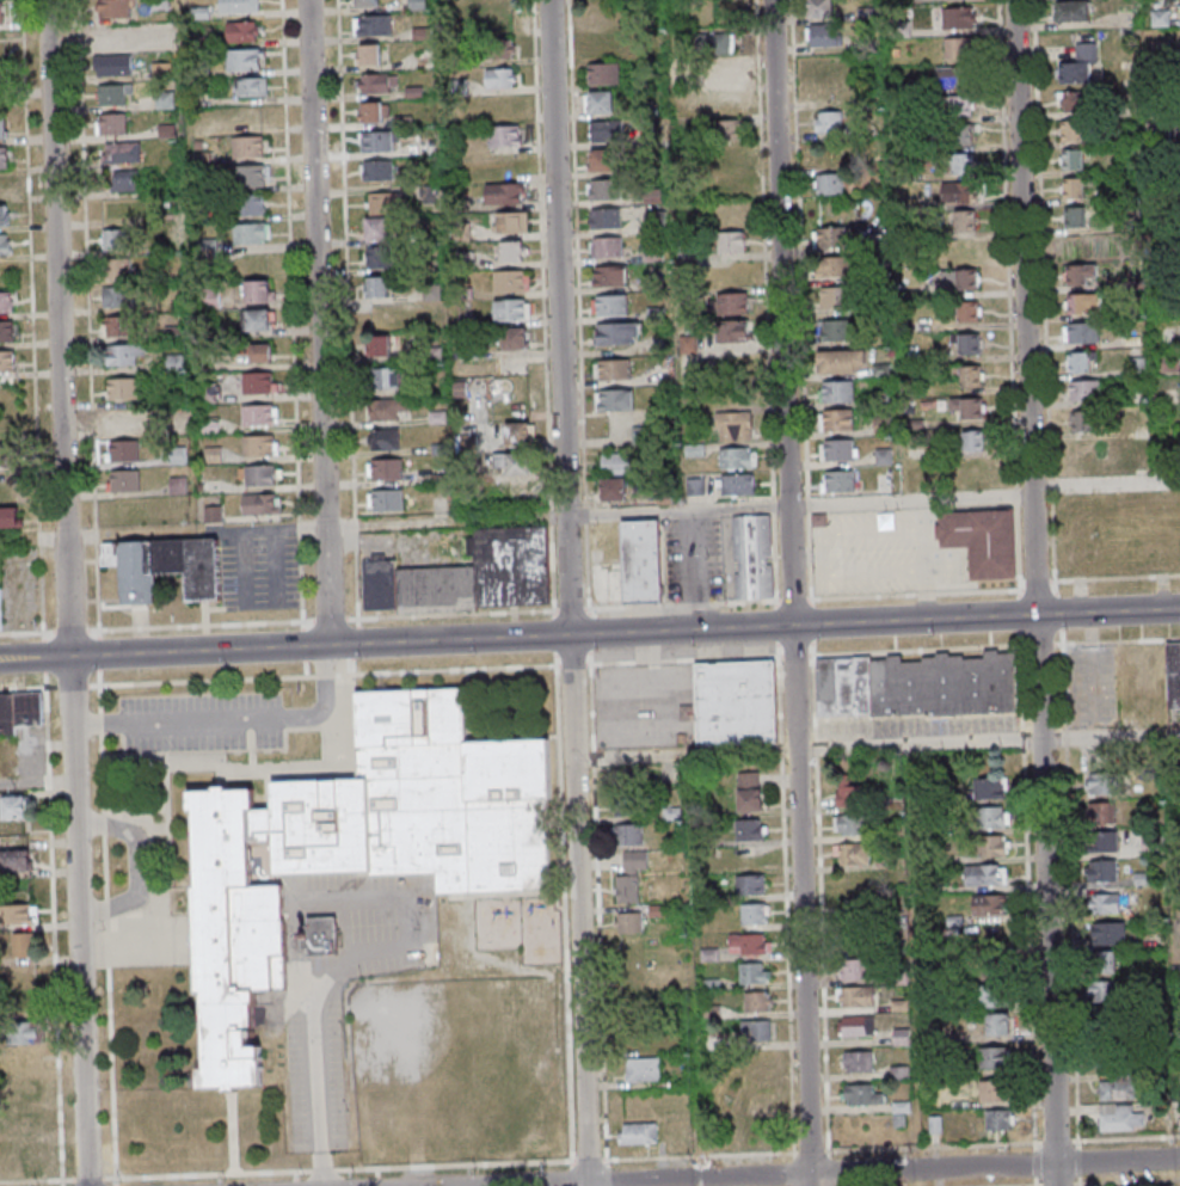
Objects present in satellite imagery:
building: (368, 2)
building: (239, 6)
building: (113, 8)
building: (821, 8)
building: (1073, 11)
building: (1, 12)
building: (964, 19)
building: (1161, 19)
building: (373, 25)
building: (244, 31)
building: (160, 35)
building: (823, 35)
building: (721, 42)
building: (607, 47)
building: (965, 49)
building: (499, 50)
building: (370, 54)
building: (245, 59)
building: (113, 64)
building: (1080, 64)
building: (725, 70)
building: (2, 72)
building: (609, 75)
building: (502, 76)
building: (967, 78)
building: (379, 82)
building: (251, 86)
building: (115, 93)
building: (165, 99)
building: (725, 99)
building: (601, 102)
building: (1076, 102)
building: (960, 105)
building: (375, 111)
building: (251, 117)
building: (826, 121)
building: (112, 123)
building: (2, 128)
building: (732, 129)
building: (611, 131)
building: (959, 133)
building: (1076, 133)
building: (505, 135)
building: (379, 140)
building: (248, 146)
building: (121, 152)
building: (4, 156)
building: (602, 159)
building: (731, 159)
building: (1076, 161)
building: (959, 164)
building: (377, 170)
building: (252, 176)
building: (125, 179)
building: (829, 183)
building: (4, 185)
building: (1078, 190)
building: (609, 191)
building: (504, 192)
building: (964, 193)
building: (382, 202)
building: (250, 204)
building: (4, 215)
building: (610, 219)
building: (1080, 219)
building: (965, 220)
building: (510, 221)
building: (380, 228)
building: (252, 232)
building: (830, 236)
building: (113, 239)
building: (730, 241)
building: (5, 244)
building: (1075, 247)
building: (613, 248)
building: (514, 251)
building: (687, 251)
building: (380, 257)
building: (838, 265)
building: (118, 268)
building: (1081, 276)
building: (615, 277)
building: (959, 278)
building: (511, 281)
building: (377, 287)
building: (259, 290)
building: (115, 296)
building: (836, 296)
building: (6, 302)
building: (735, 302)
building: (1082, 306)
building: (616, 307)
building: (512, 308)
building: (969, 311)
building: (259, 318)
road: (325, 321)
building: (119, 326)
building: (837, 330)
building: (7, 331)
building: (736, 331)
building: (1082, 334)
building: (616, 336)
road: (32, 337)
building: (516, 338)
building: (969, 343)
building: (379, 344)
building: (689, 344)
road: (91, 345)
building: (263, 351)
building: (124, 354)
building: (7, 361)
building: (842, 361)
building: (1080, 363)
building: (620, 370)
building: (969, 375)
building: (387, 377)
building: (258, 382)
building: (123, 387)
building: (837, 391)
building: (210, 392)
building: (1086, 392)
building: (621, 401)
building: (388, 407)
building: (972, 407)
road: (299, 411)
building: (259, 414)
building: (119, 418)
building: (836, 420)
building: (1082, 423)
building: (735, 425)
road: (351, 426)
building: (518, 434)
building: (385, 437)
building: (973, 441)
building: (260, 444)
building: (838, 449)
building: (122, 450)
building: (4, 455)
building: (1082, 456)
building: (738, 457)
building: (615, 461)
building: (514, 462)
building: (386, 468)
building: (259, 474)
building: (973, 474)
building: (123, 480)
building: (838, 480)
building: (737, 484)
road: (1108, 485)
building: (614, 488)
building: (386, 499)
building: (262, 503)
road: (805, 503)
building: (214, 514)
building: (10, 517)
road: (322, 524)
building: (1168, 535)
building: (981, 541)
road: (934, 549)
road: (811, 555)
building: (752, 557)
building: (643, 561)
building: (165, 566)
building: (468, 574)
road: (74, 592)
road: (574, 592)
road: (791, 592)
road: (1041, 592)
road: (890, 594)
road: (934, 595)
building: (0, 608)
road: (627, 631)
road: (595, 637)
road: (38, 658)
building: (1174, 675)
road: (346, 677)
road: (76, 684)
building: (918, 684)
building: (736, 702)
building: (19, 711)
building: (687, 712)
road: (235, 719)
road: (1111, 737)
road: (918, 743)
road: (689, 755)
building: (1100, 784)
building: (990, 788)
building: (749, 791)
building: (850, 794)
building: (628, 801)
building: (13, 806)
building: (995, 817)
building: (849, 824)
building: (1102, 825)
building: (750, 828)
building: (628, 835)
building: (994, 844)
building: (361, 846)
building: (850, 853)
building: (16, 859)
building: (1102, 869)
building: (985, 874)
building: (631, 875)
building: (752, 884)
building: (1105, 903)
building: (989, 904)
building: (18, 914)
building: (754, 914)
building: (628, 922)
building: (1110, 933)
building: (320, 936)
building: (23, 944)
building: (748, 944)
building: (992, 960)
building: (1104, 961)
road: (337, 970)
building: (855, 970)
building: (754, 972)
building: (1105, 994)
building: (856, 996)
building: (995, 996)
building: (757, 1001)
building: (856, 1025)
building: (998, 1025)
building: (757, 1030)
building: (26, 1032)
building: (997, 1057)
building: (858, 1061)
building: (643, 1069)
building: (29, 1089)
building: (1119, 1089)
building: (996, 1090)
building: (862, 1094)
building: (1119, 1118)
building: (1001, 1119)
building: (25, 1122)
building: (758, 1130)
building: (638, 1132)
road: (646, 1159)
building: (33, 1162)
road: (841, 1173)
road: (67, 1184)

